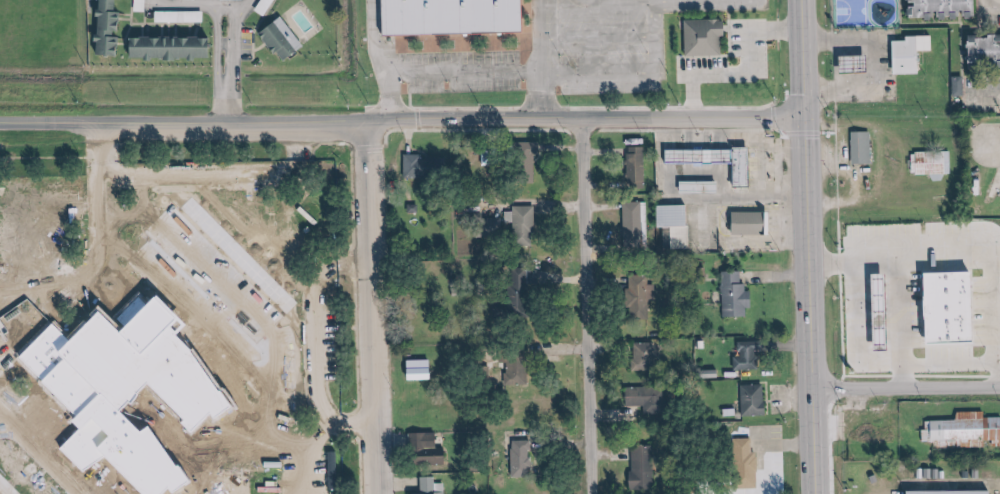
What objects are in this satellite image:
road: (588, 3)
building: (142, 5)
road: (249, 5)
road: (987, 5)
building: (267, 6)
road: (199, 8)
building: (934, 9)
building: (181, 16)
building: (449, 27)
building: (112, 29)
building: (698, 37)
building: (285, 39)
road: (590, 43)
building: (173, 47)
building: (981, 50)
building: (914, 53)
road: (372, 59)
road: (532, 59)
building: (859, 63)
road: (233, 64)
road: (454, 72)
road: (741, 75)
road: (629, 77)
building: (961, 86)
road: (983, 95)
road: (397, 117)
traffic signals: (796, 119)
road: (995, 146)
building: (533, 147)
building: (866, 149)
building: (492, 157)
building: (933, 163)
building: (638, 165)
building: (426, 166)
building: (735, 166)
gas station: (766, 166)
road: (208, 175)
road: (203, 187)
building: (702, 187)
road: (162, 209)
road: (243, 210)
building: (679, 223)
building: (753, 223)
building: (525, 224)
building: (635, 224)
building: (497, 225)
road: (800, 247)
road: (94, 268)
road: (833, 268)
road: (299, 293)
building: (738, 295)
building: (522, 296)
building: (644, 296)
park: (11, 306)
road: (582, 306)
building: (956, 307)
road: (363, 308)
road: (283, 316)
building: (200, 335)
road: (312, 344)
building: (751, 355)
building: (647, 356)
building: (423, 370)
building: (519, 371)
road: (274, 375)
road: (902, 388)
building: (650, 399)
building: (757, 401)
building: (966, 431)
building: (428, 448)
building: (524, 459)
building: (749, 464)
road: (351, 465)
building: (645, 467)
building: (433, 486)
building: (952, 492)

